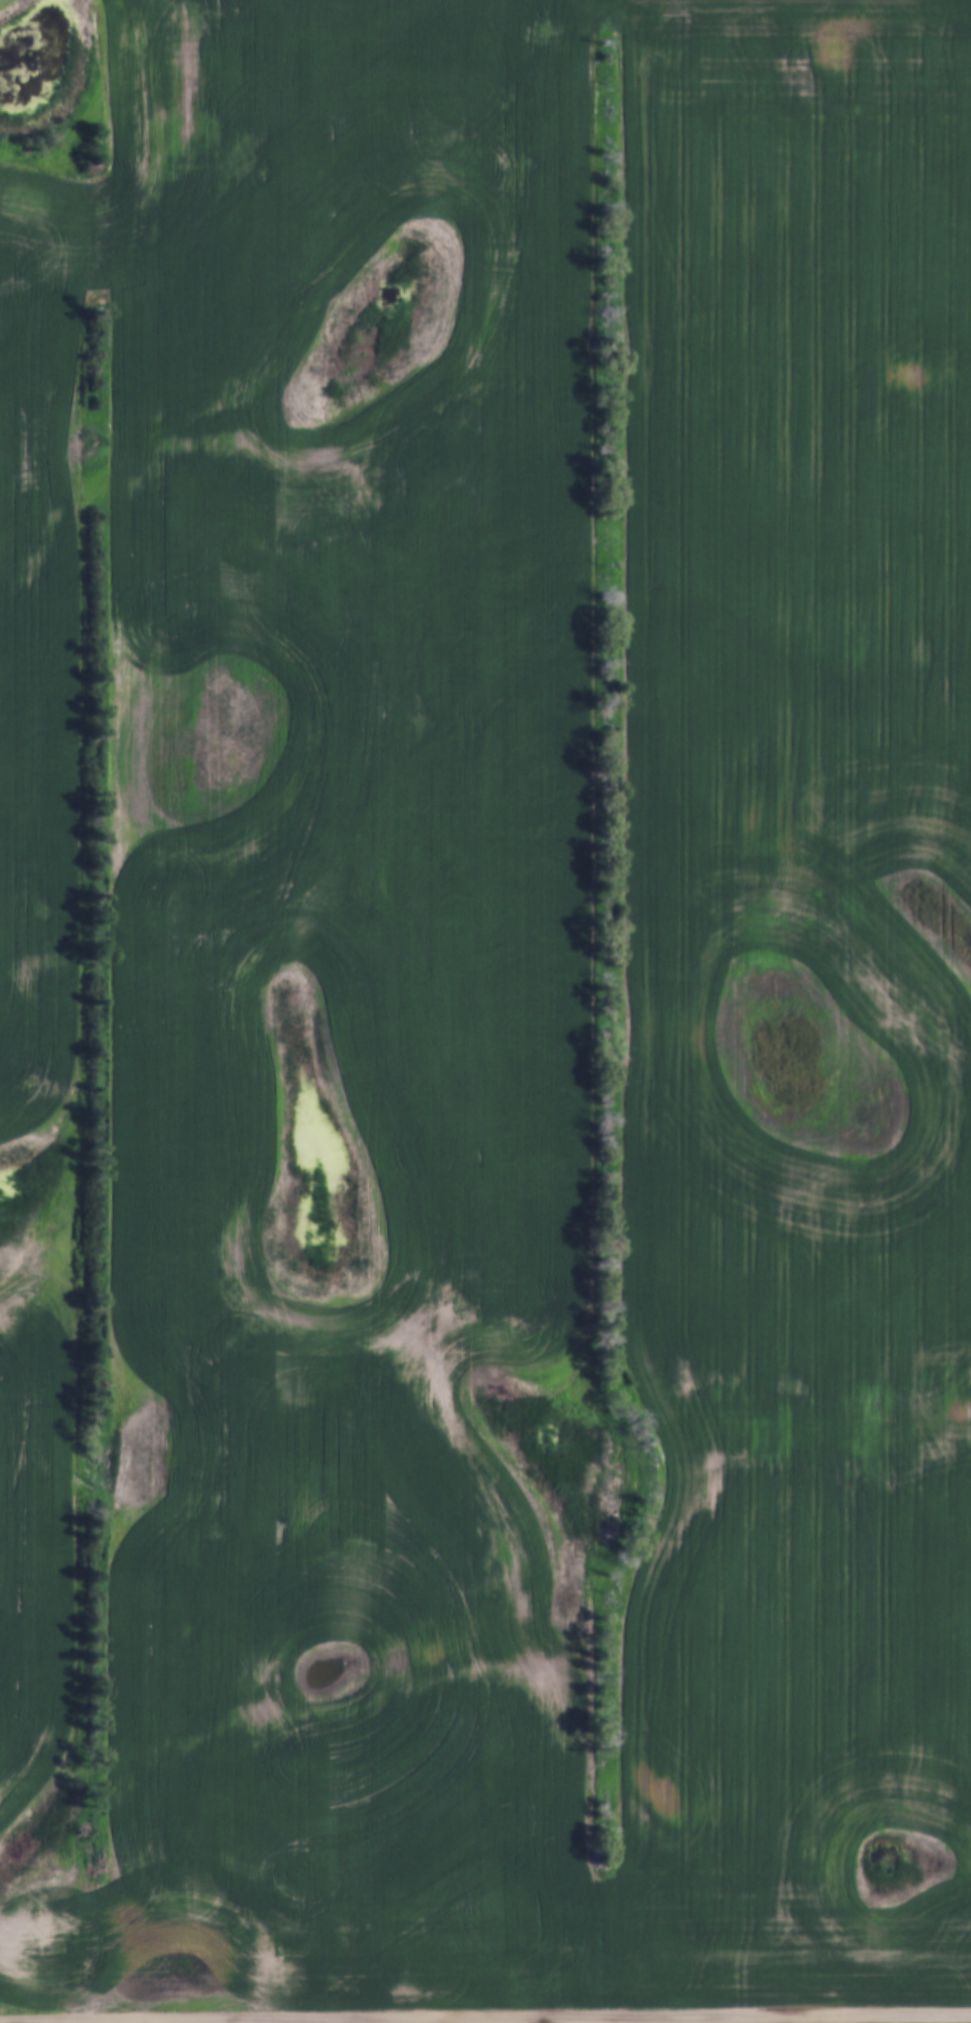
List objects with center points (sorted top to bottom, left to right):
road: (485, 2015)

